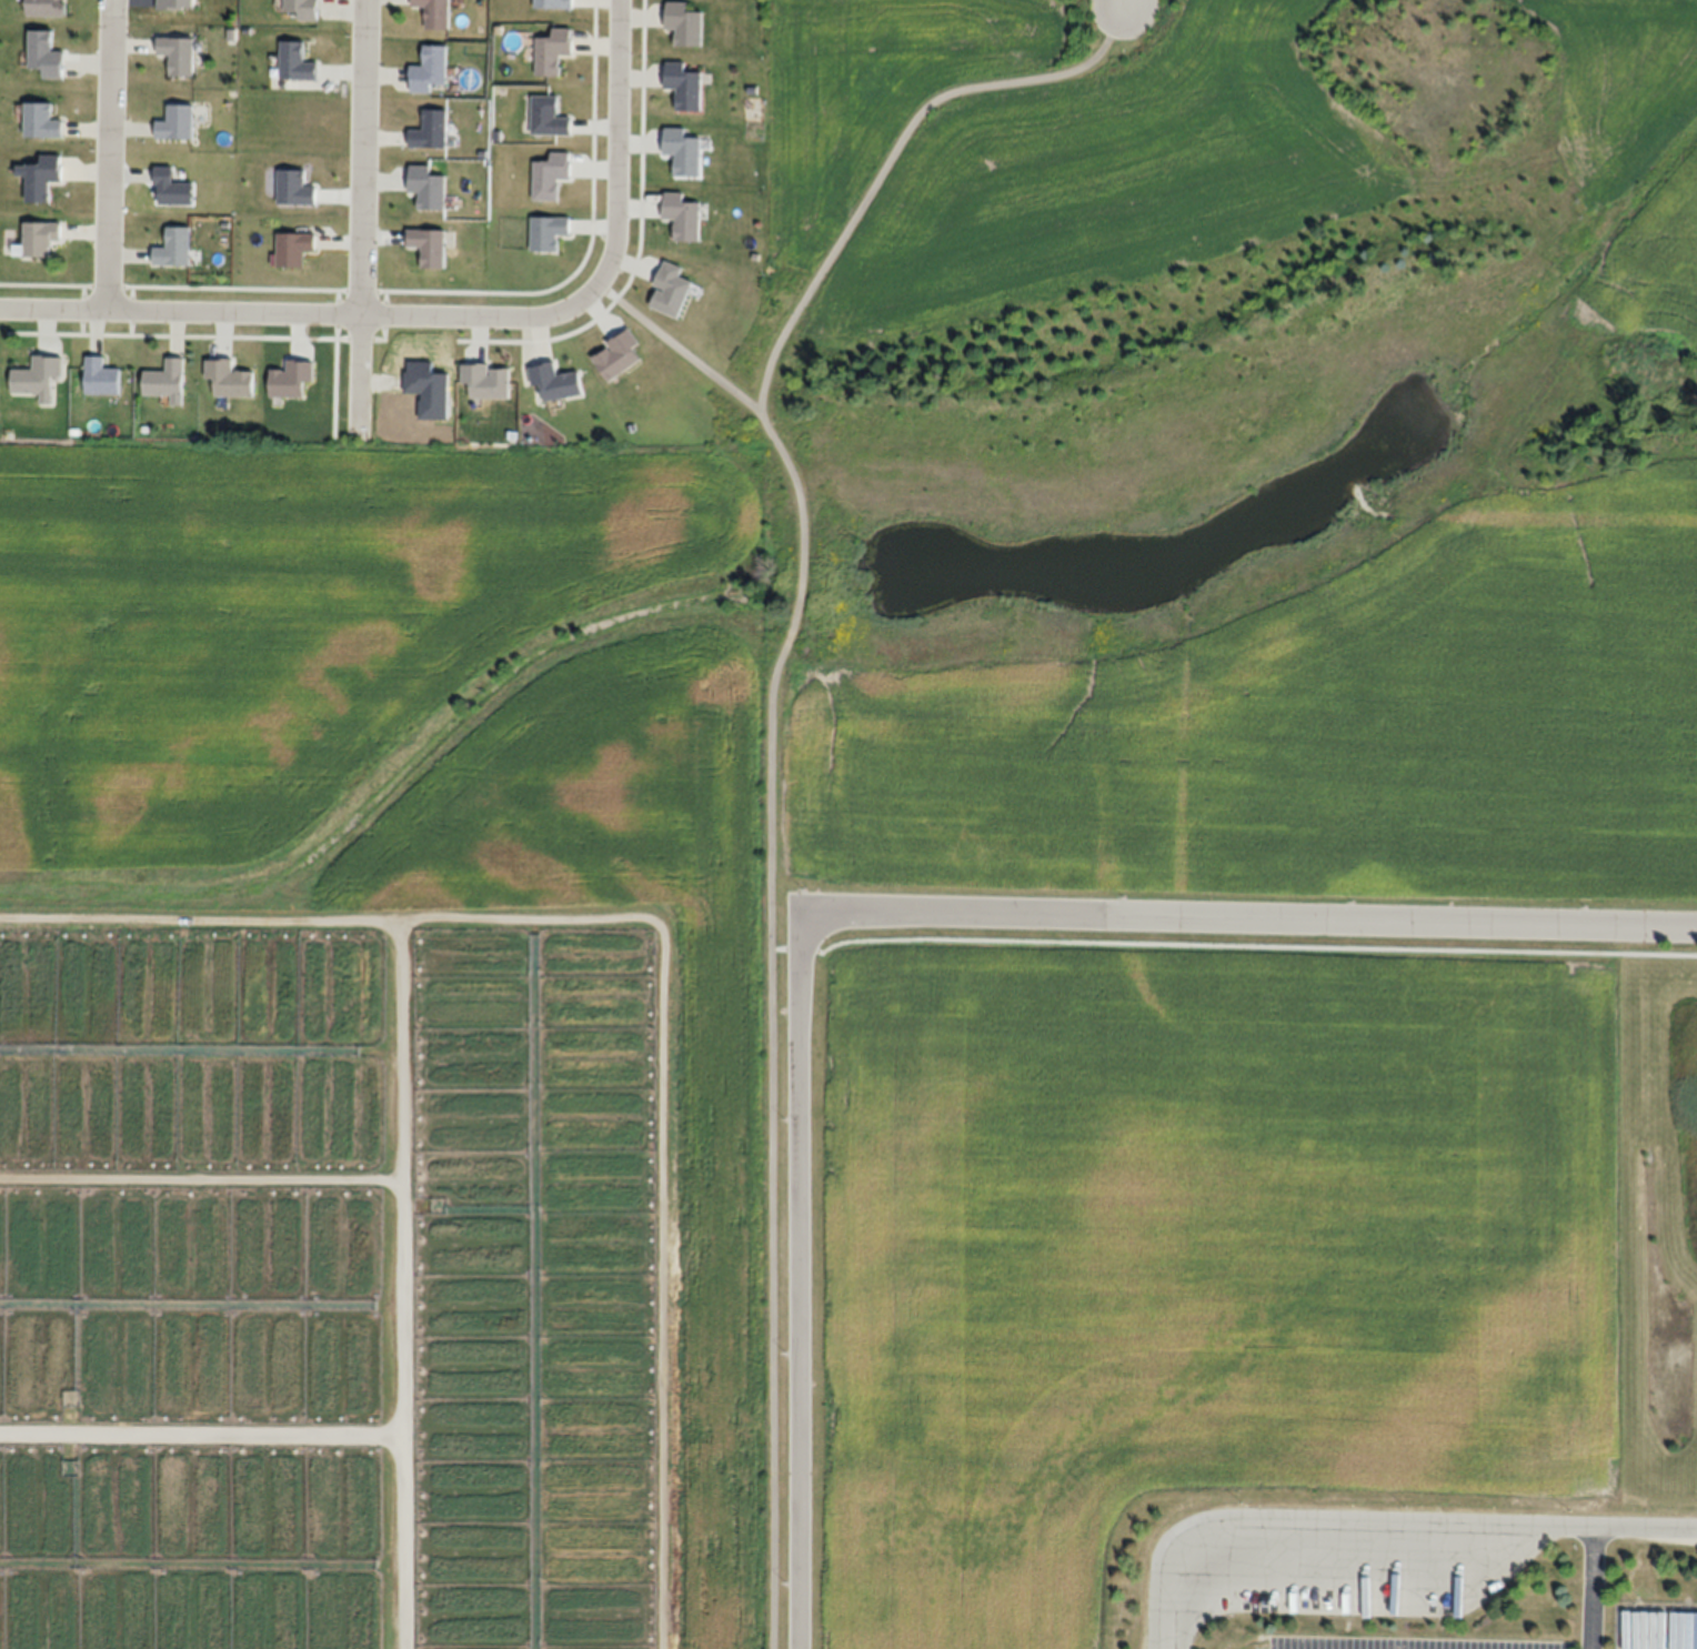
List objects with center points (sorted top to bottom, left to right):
building: (554, 3)
road: (1126, 3)
building: (177, 4)
building: (46, 8)
building: (304, 8)
building: (436, 12)
building: (685, 22)
building: (554, 51)
building: (178, 53)
building: (46, 54)
building: (431, 69)
building: (685, 84)
crop: (874, 99)
building: (43, 120)
building: (177, 122)
building: (431, 130)
building: (684, 150)
road: (108, 153)
building: (43, 177)
building: (429, 187)
building: (172, 188)
building: (683, 215)
road: (360, 218)
building: (549, 233)
building: (40, 238)
building: (174, 247)
building: (294, 248)
road: (445, 312)
road: (677, 345)
building: (101, 375)
building: (39, 376)
building: (230, 379)
building: (167, 380)
building: (488, 380)
building: (555, 382)
crop: (1268, 473)
road: (772, 728)
road: (1248, 915)
crop: (384, 1046)
road: (799, 1277)
road: (1328, 1521)
road: (1644, 1526)
road: (1589, 1587)

